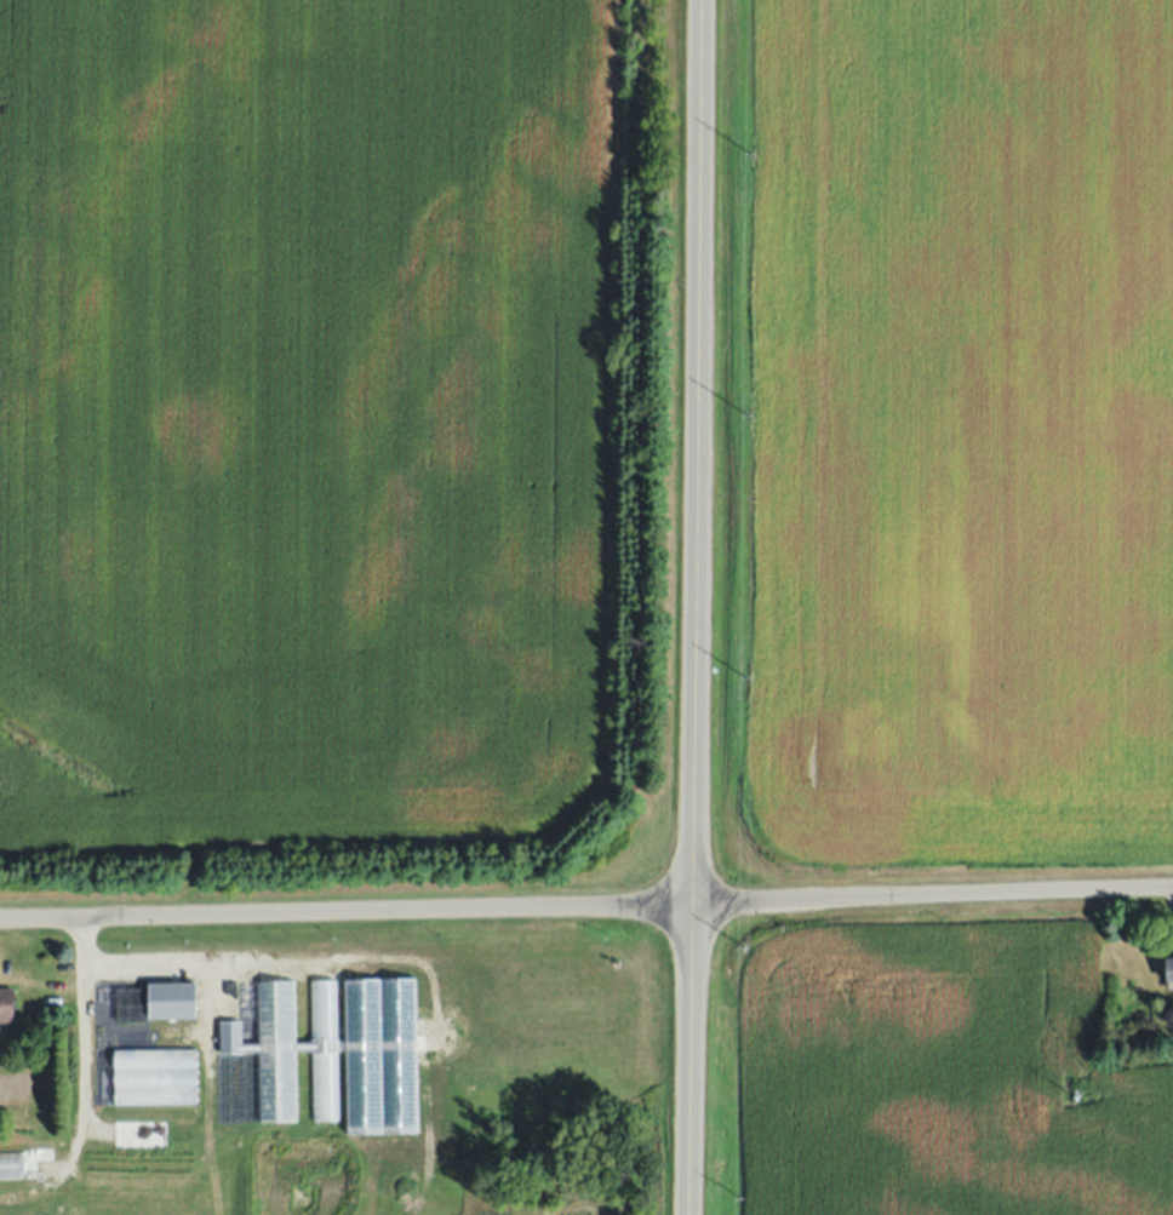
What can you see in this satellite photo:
road: (693, 607)
road: (586, 907)
road: (148, 957)
building: (1168, 972)
building: (171, 1001)
building: (7, 1005)
road: (79, 1037)
building: (288, 1049)
building: (154, 1077)
building: (46, 1121)
building: (12, 1165)

